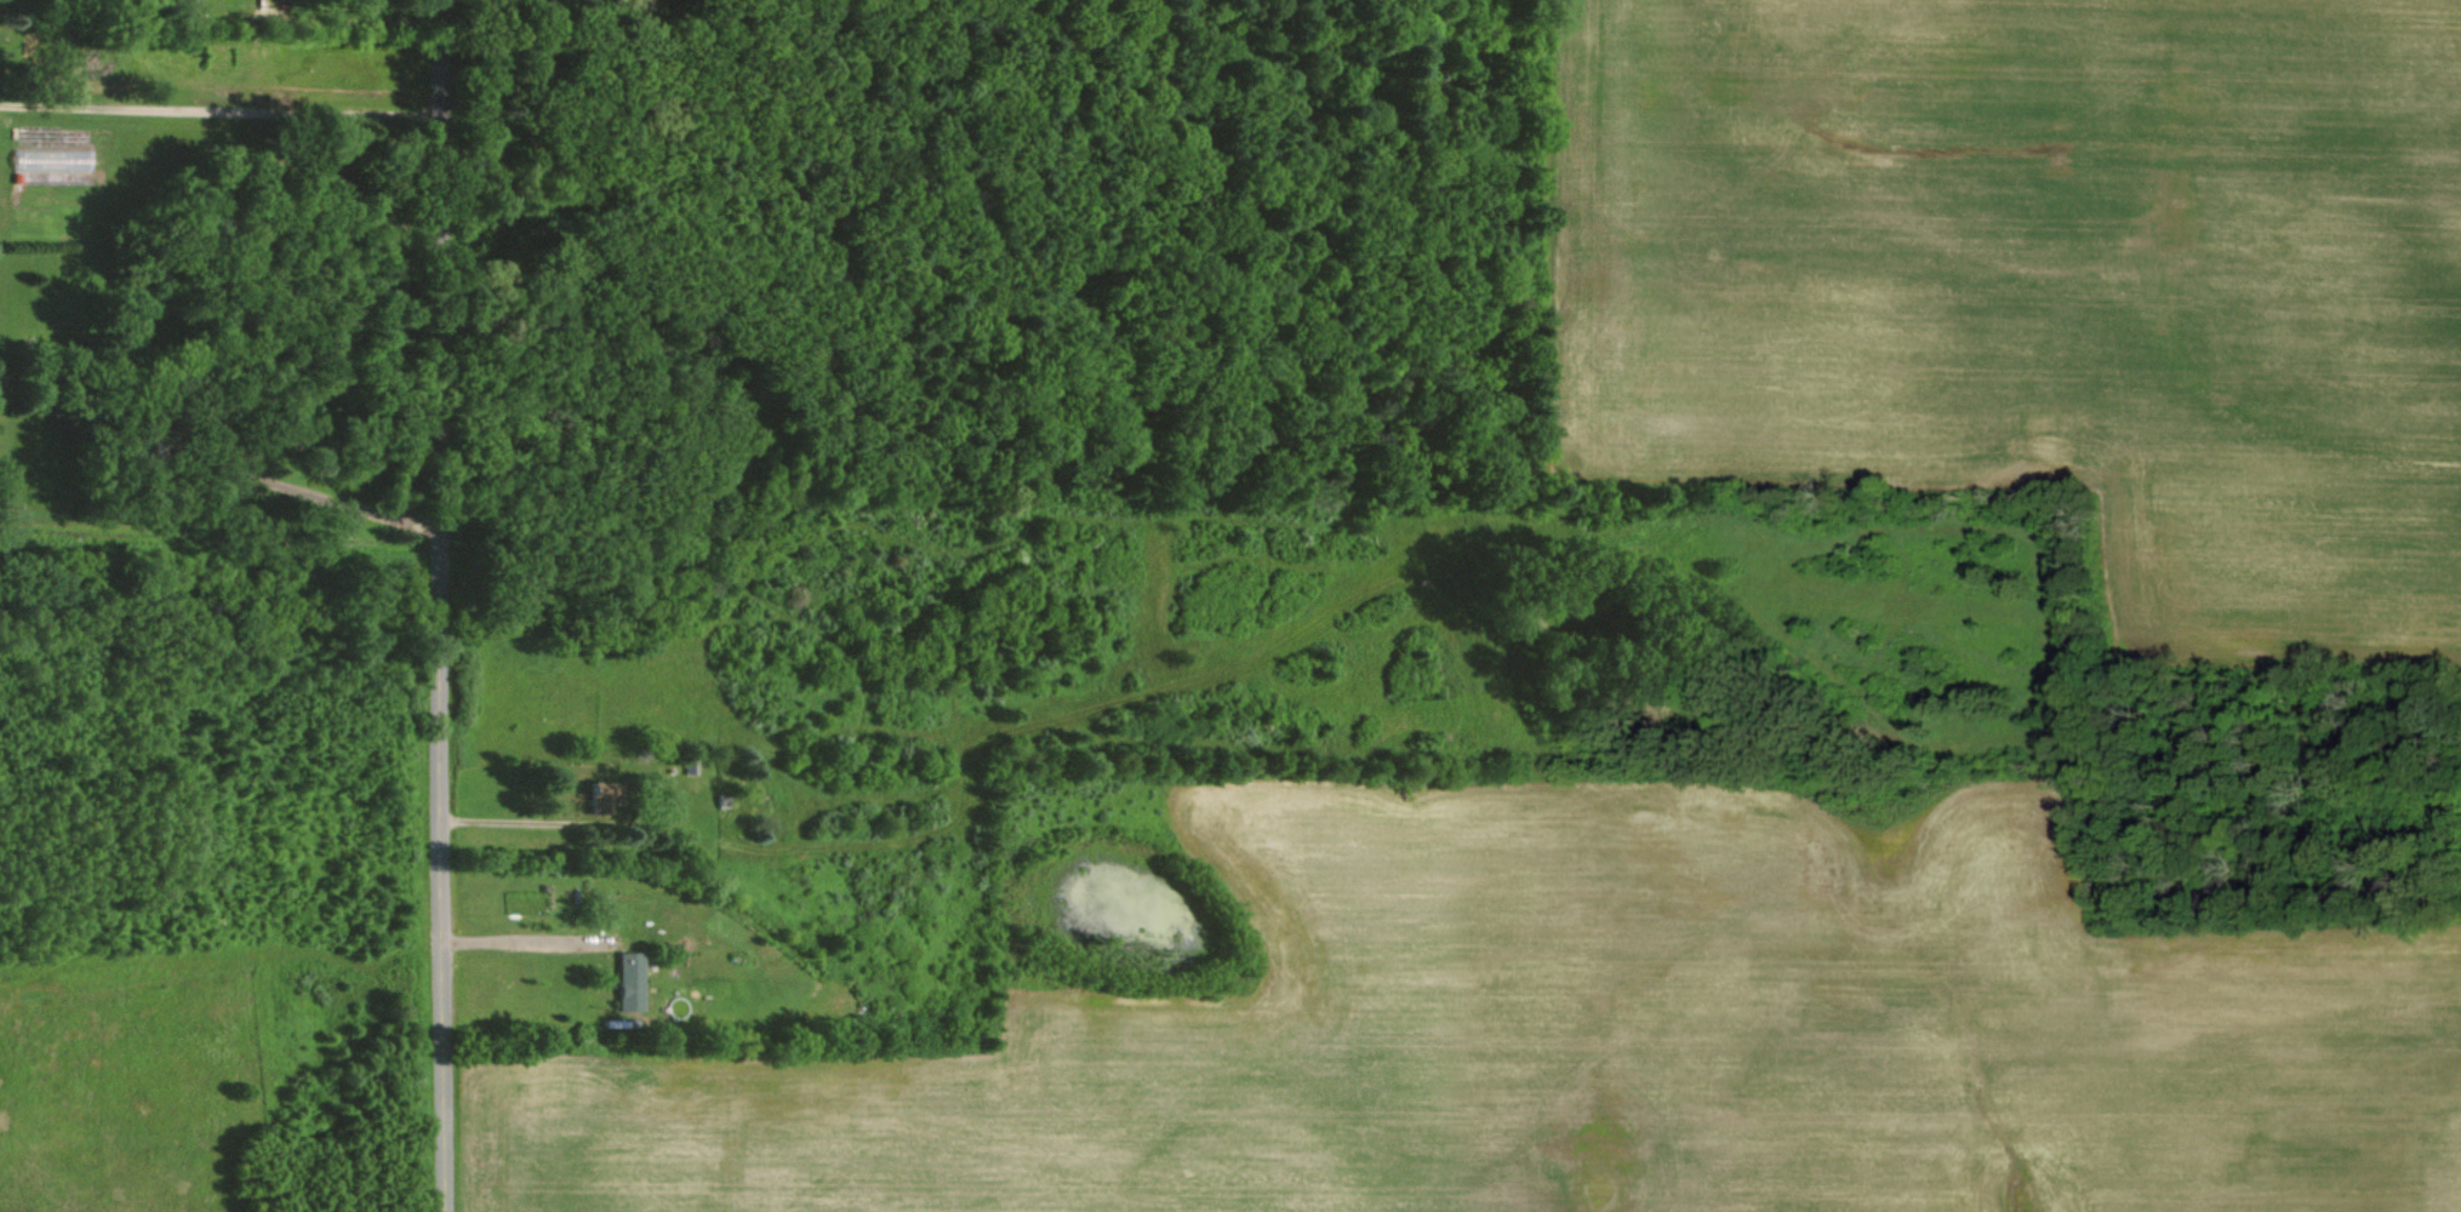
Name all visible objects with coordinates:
road: (227, 105)
road: (219, 452)
road: (452, 606)
building: (600, 797)
road: (523, 938)
building: (630, 981)

